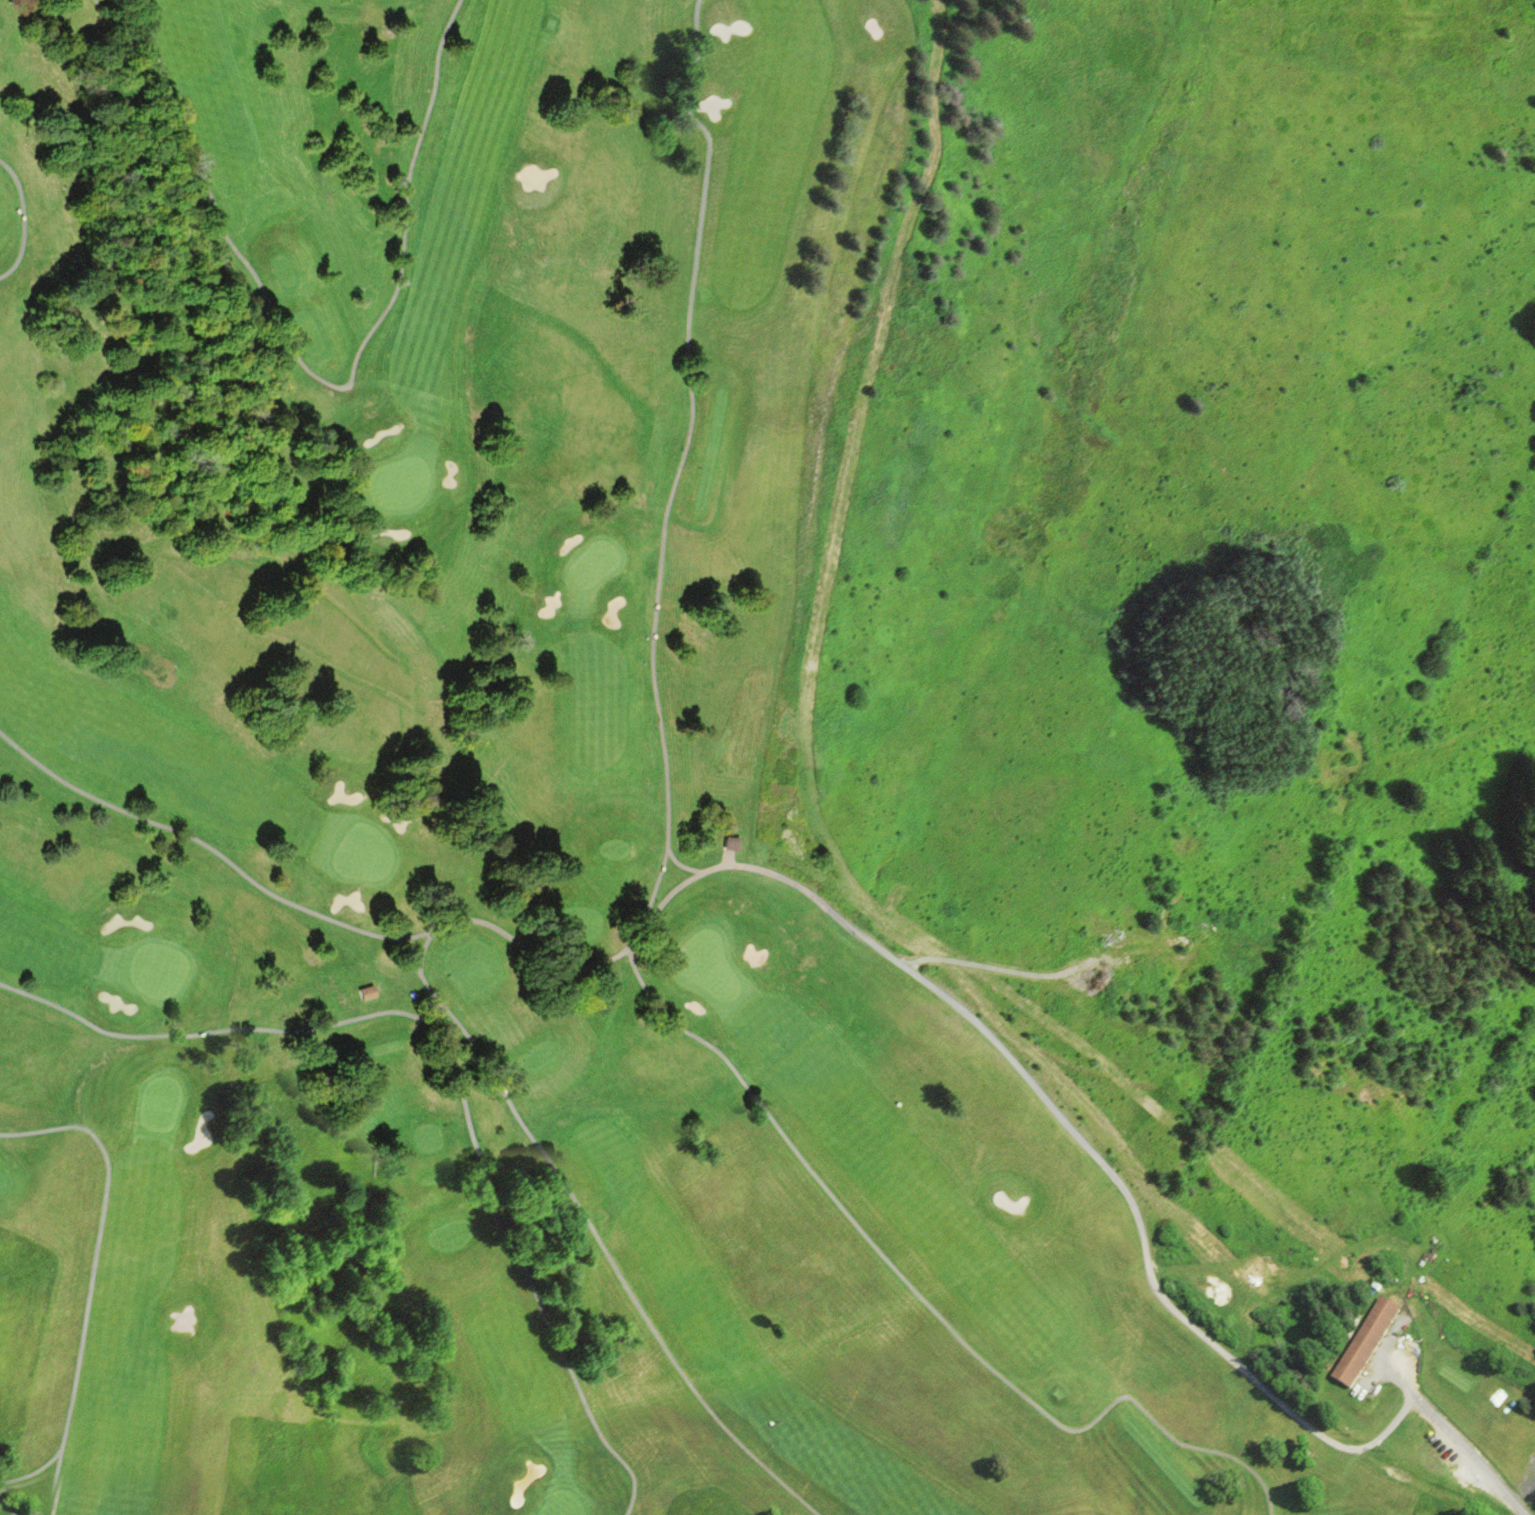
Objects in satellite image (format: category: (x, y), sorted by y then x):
road: (25, 219)
road: (315, 374)
road: (682, 460)
park: (497, 819)
building: (729, 842)
road: (682, 863)
road: (790, 878)
road: (422, 974)
building: (364, 992)
road: (455, 1062)
road: (608, 1256)
road: (90, 1276)
road: (922, 1301)
building: (1363, 1341)
building: (1494, 1392)
road: (1457, 1440)
road: (33, 1476)
road: (8, 1507)

